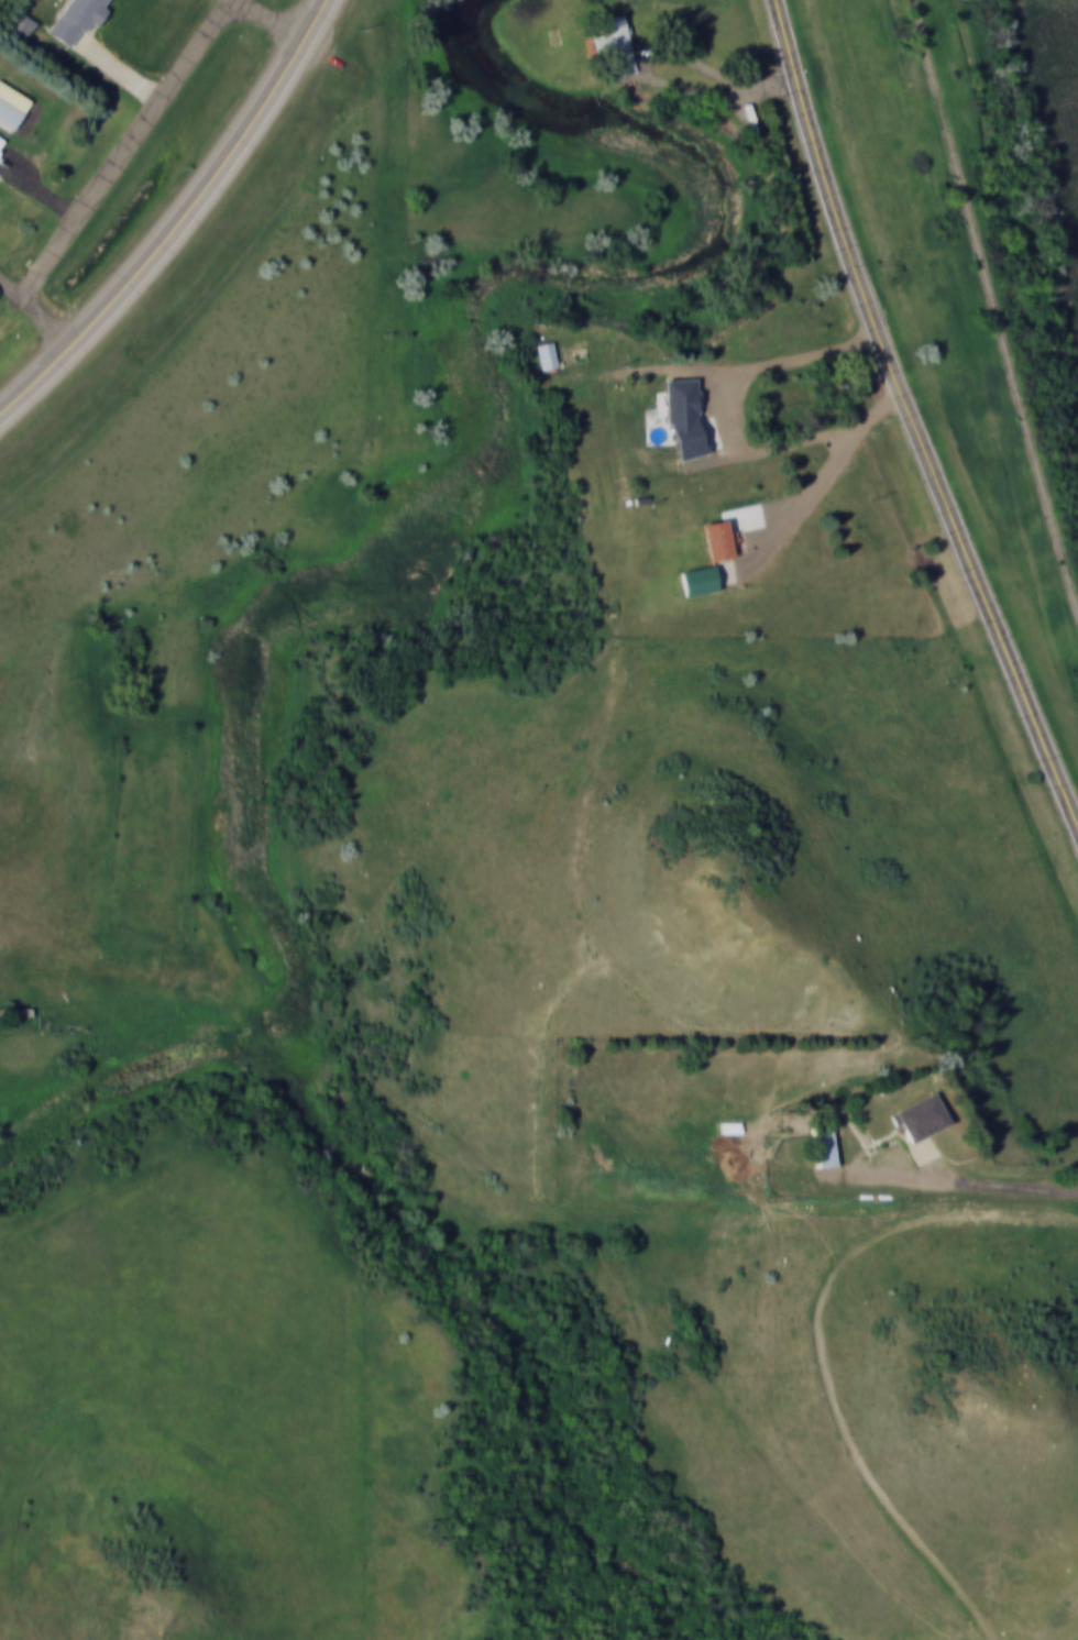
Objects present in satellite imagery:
building: (76, 18)
building: (20, 24)
building: (614, 44)
building: (9, 113)
building: (2, 142)
road: (130, 142)
road: (178, 220)
railway: (993, 300)
building: (546, 355)
road: (758, 365)
building: (673, 409)
road: (913, 419)
road: (826, 471)
building: (717, 538)
building: (698, 579)
building: (920, 1116)
building: (826, 1144)

